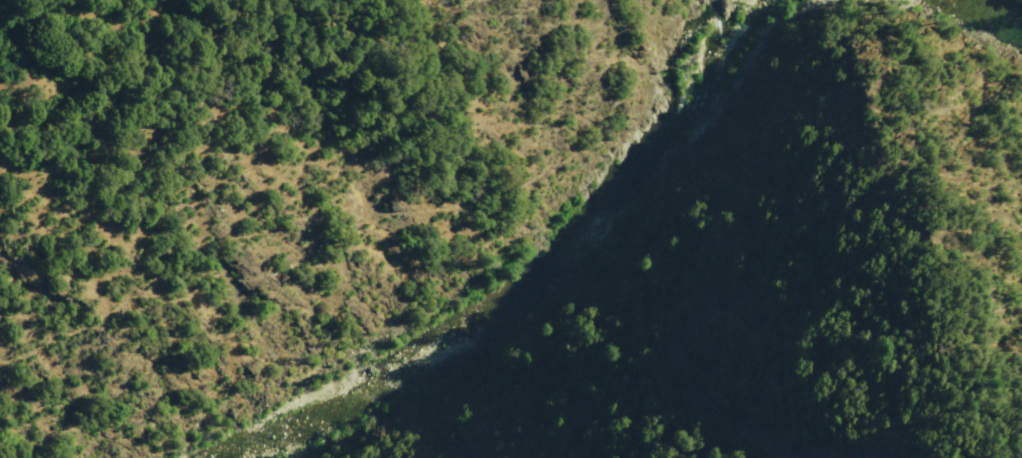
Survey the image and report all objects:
river: (993, 10)
road: (308, 79)
road: (300, 239)
river: (539, 282)

